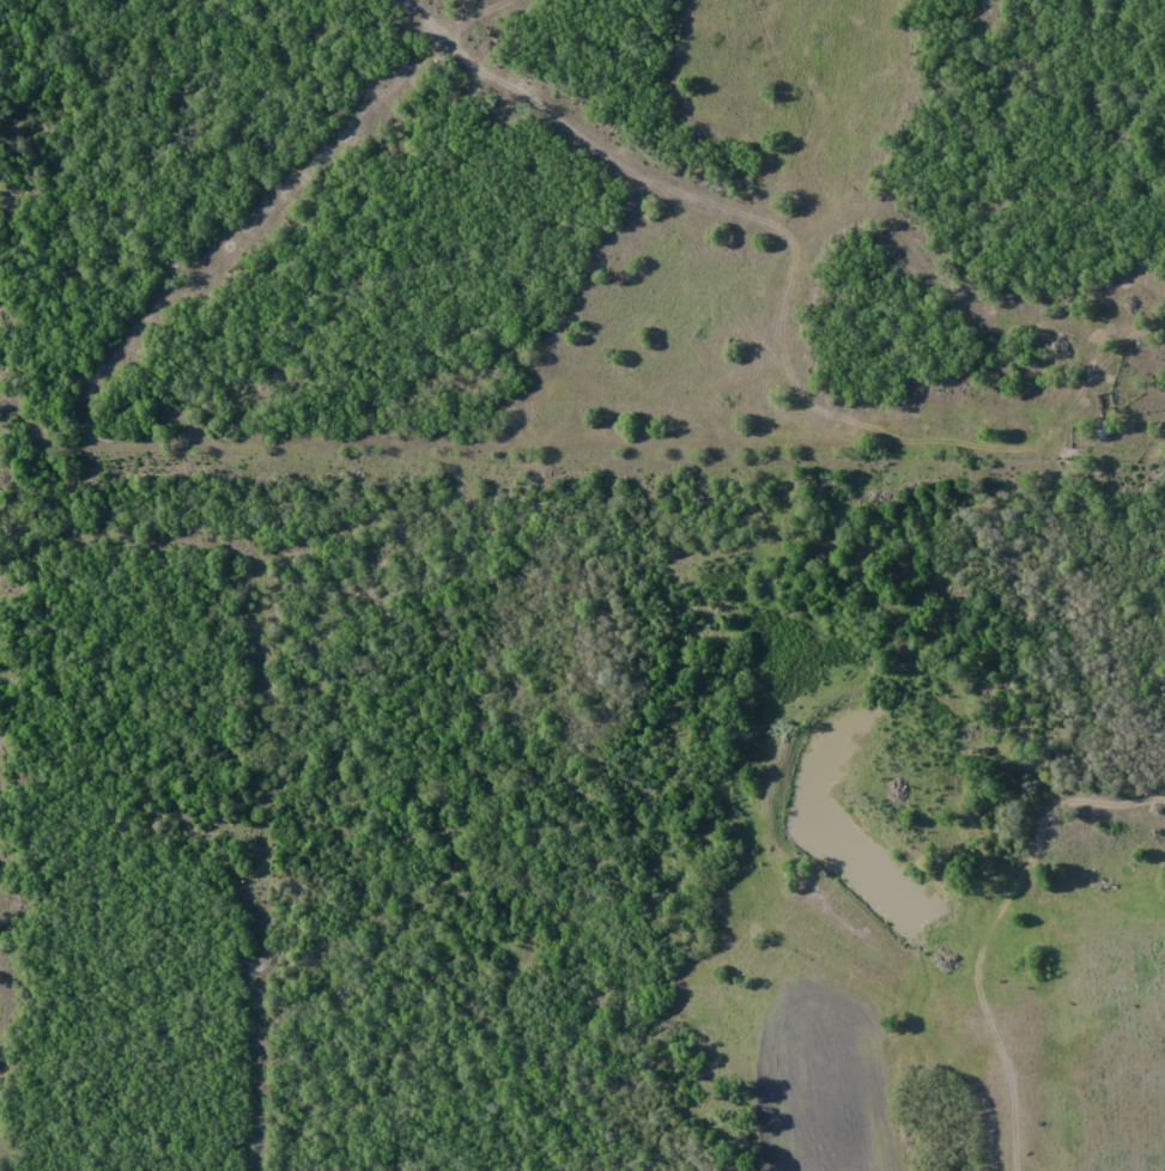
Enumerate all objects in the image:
road: (693, 1063)

